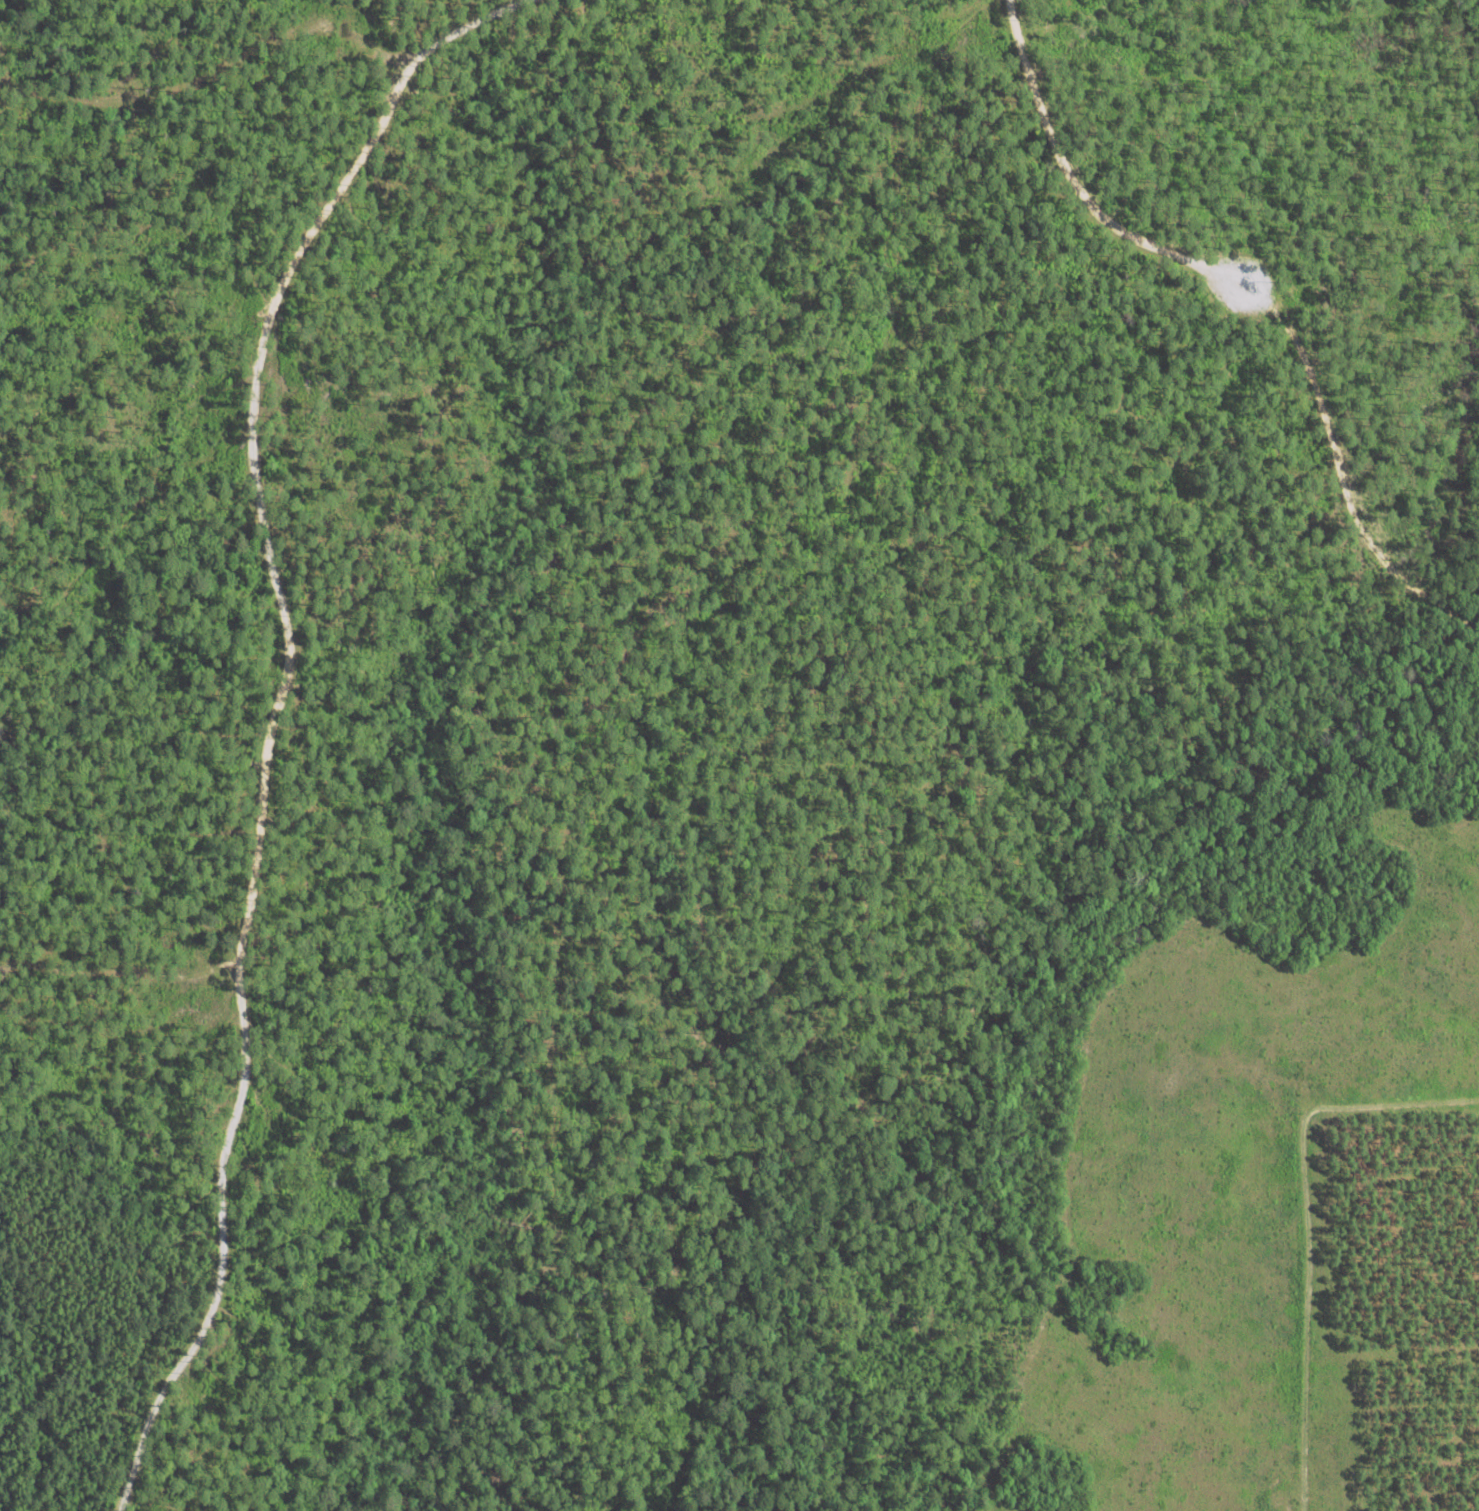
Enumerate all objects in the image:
road: (1071, 180)
road: (1338, 465)
road: (287, 648)

